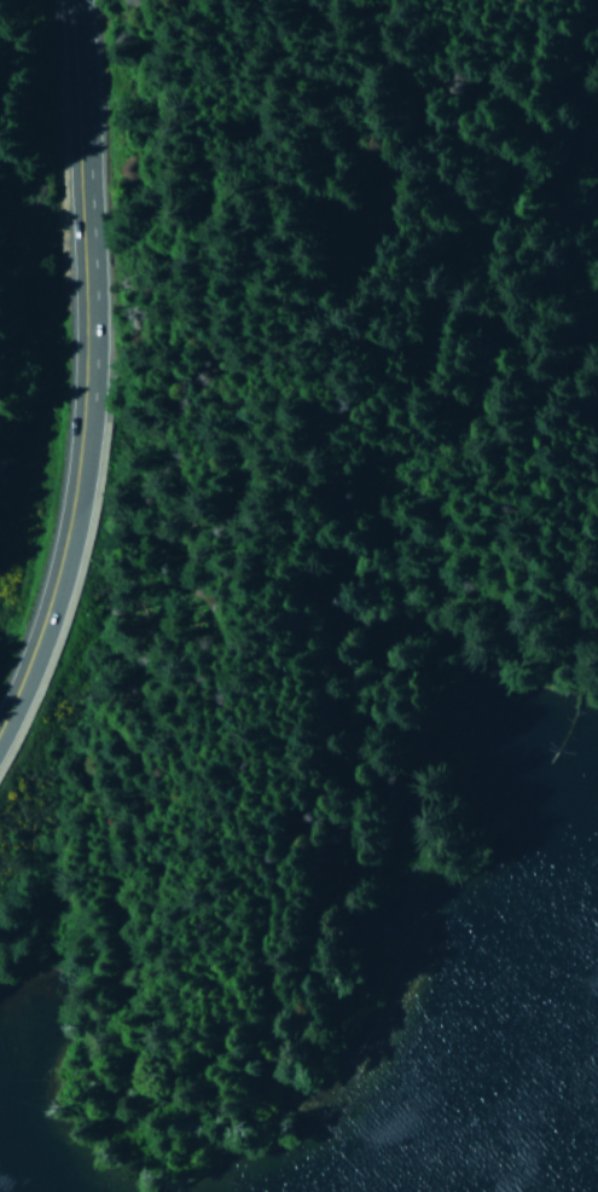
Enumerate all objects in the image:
road: (66, 166)
road: (56, 536)

